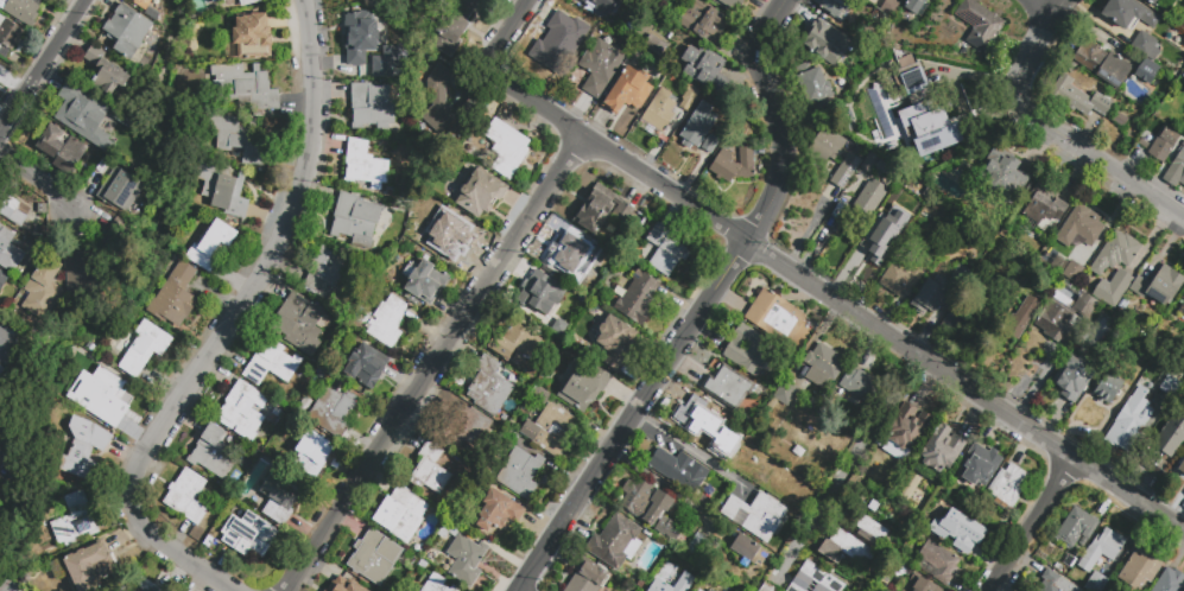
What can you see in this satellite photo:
building: (1183, 0)
building: (217, 1)
building: (1172, 1)
building: (249, 2)
building: (1152, 2)
building: (140, 4)
building: (727, 4)
building: (913, 5)
building: (603, 6)
road: (1040, 6)
building: (891, 7)
building: (835, 8)
building: (23, 9)
building: (1127, 14)
building: (704, 23)
building: (980, 25)
building: (455, 27)
building: (127, 33)
building: (357, 36)
road: (504, 36)
building: (253, 37)
building: (8, 39)
building: (557, 43)
building: (653, 44)
building: (825, 44)
building: (1146, 46)
building: (371, 52)
building: (388, 62)
building: (1102, 63)
road: (43, 65)
building: (602, 66)
building: (705, 68)
building: (1147, 72)
building: (108, 76)
building: (912, 77)
building: (813, 88)
building: (67, 90)
building: (252, 91)
building: (628, 91)
building: (1076, 94)
building: (686, 100)
building: (439, 102)
building: (373, 109)
building: (659, 114)
building: (87, 119)
building: (881, 119)
building: (1119, 120)
building: (927, 122)
building: (129, 123)
building: (698, 125)
road: (1049, 133)
building: (236, 140)
building: (710, 144)
building: (1164, 145)
building: (825, 146)
building: (63, 151)
building: (508, 151)
building: (955, 154)
building: (868, 164)
building: (733, 165)
building: (884, 169)
building: (844, 170)
building: (1176, 170)
building: (365, 171)
building: (958, 172)
building: (1001, 173)
road: (39, 179)
building: (223, 188)
building: (121, 192)
building: (480, 192)
building: (927, 192)
building: (869, 197)
building: (920, 202)
building: (11, 204)
building: (1043, 205)
building: (40, 209)
building: (600, 209)
building: (355, 221)
building: (1079, 228)
building: (884, 231)
building: (451, 239)
building: (116, 241)
building: (213, 247)
building: (665, 249)
building: (8, 252)
building: (1114, 254)
building: (569, 258)
building: (1072, 272)
building: (901, 274)
building: (84, 277)
building: (327, 279)
building: (422, 279)
building: (4, 284)
building: (1017, 286)
building: (1159, 286)
building: (1113, 290)
building: (939, 291)
building: (44, 292)
building: (638, 297)
building: (1183, 298)
building: (176, 299)
building: (544, 299)
road: (835, 301)
road: (704, 309)
building: (1182, 310)
building: (983, 313)
building: (774, 317)
building: (1022, 317)
building: (1064, 317)
building: (955, 322)
building: (300, 324)
building: (388, 324)
road: (227, 326)
building: (1183, 330)
building: (1139, 339)
building: (517, 342)
building: (612, 342)
building: (144, 348)
building: (748, 349)
building: (6, 350)
road: (432, 364)
building: (273, 366)
building: (822, 366)
building: (366, 369)
building: (4, 376)
building: (1075, 376)
building: (584, 385)
building: (861, 386)
building: (1170, 386)
building: (489, 388)
building: (727, 388)
building: (1107, 388)
building: (786, 392)
building: (107, 396)
building: (242, 409)
building: (335, 414)
building: (698, 420)
building: (1129, 420)
building: (2, 425)
building: (907, 426)
building: (462, 430)
building: (549, 430)
building: (1166, 440)
building: (508, 441)
building: (942, 449)
building: (84, 451)
road: (692, 451)
building: (312, 453)
building: (214, 455)
building: (7, 458)
road: (846, 464)
building: (980, 464)
building: (676, 466)
building: (758, 466)
building: (1182, 466)
building: (432, 472)
building: (521, 476)
road: (660, 483)
building: (1007, 485)
building: (188, 498)
building: (280, 498)
building: (663, 503)
building: (755, 515)
building: (490, 516)
building: (405, 517)
building: (77, 522)
road: (1032, 525)
building: (1076, 527)
building: (960, 529)
building: (450, 530)
building: (854, 538)
building: (252, 540)
building: (615, 541)
building: (697, 546)
building: (745, 547)
building: (1101, 548)
building: (378, 559)
building: (938, 561)
building: (464, 563)
building: (86, 566)
building: (1139, 568)
building: (587, 577)
building: (813, 579)
building: (664, 582)
building: (1096, 582)
building: (1170, 582)
building: (1057, 583)
building: (920, 584)
building: (344, 585)
building: (436, 585)
building: (137, 589)
building: (699, 589)
building: (768, 589)
building: (324, 590)
building: (454, 590)
building: (710, 590)

